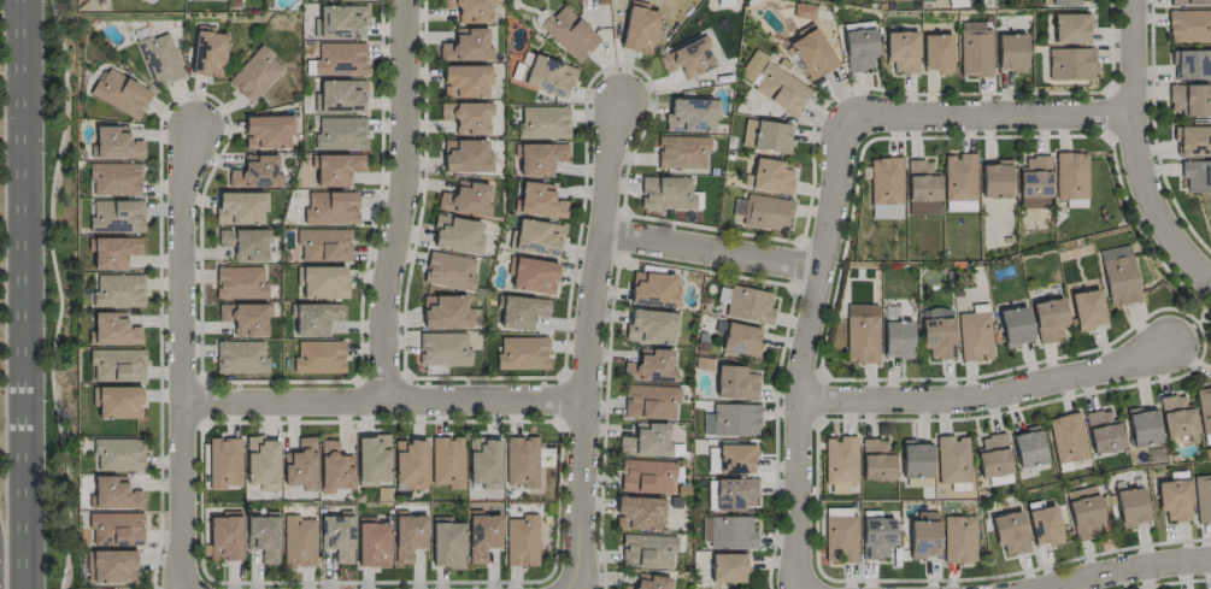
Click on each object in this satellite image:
building: (201, 0)
building: (1060, 1)
building: (1189, 1)
building: (470, 10)
building: (341, 20)
building: (1189, 25)
building: (639, 28)
building: (1071, 28)
building: (569, 33)
building: (468, 46)
building: (859, 48)
building: (975, 49)
building: (901, 51)
building: (1011, 52)
building: (208, 53)
building: (811, 53)
building: (936, 53)
building: (159, 58)
building: (689, 58)
building: (334, 59)
building: (1070, 64)
building: (1192, 64)
building: (254, 73)
building: (548, 76)
building: (465, 81)
building: (772, 83)
building: (119, 93)
building: (340, 95)
building: (1189, 100)
road: (990, 110)
building: (690, 114)
building: (466, 117)
building: (543, 122)
building: (266, 131)
building: (340, 132)
building: (770, 136)
building: (1192, 141)
building: (114, 143)
building: (681, 152)
road: (1135, 153)
building: (466, 155)
building: (540, 158)
building: (333, 169)
building: (255, 172)
building: (770, 176)
building: (1070, 176)
building: (1197, 176)
building: (114, 178)
building: (994, 179)
building: (922, 182)
building: (959, 182)
building: (1034, 182)
building: (886, 188)
building: (665, 193)
building: (466, 199)
road: (399, 200)
building: (539, 200)
building: (239, 207)
building: (330, 208)
building: (763, 212)
building: (116, 216)
building: (455, 234)
building: (537, 237)
building: (245, 243)
building: (323, 245)
road: (712, 251)
building: (113, 252)
building: (448, 270)
building: (533, 275)
building: (1118, 275)
building: (323, 282)
building: (239, 283)
building: (653, 289)
building: (118, 290)
road: (58, 293)
road: (19, 294)
building: (745, 304)
building: (1087, 310)
building: (522, 311)
building: (446, 312)
building: (245, 318)
building: (314, 318)
building: (1048, 319)
building: (1013, 325)
building: (651, 326)
building: (112, 329)
building: (860, 334)
building: (974, 335)
road: (592, 337)
building: (937, 337)
building: (740, 340)
building: (897, 340)
road: (806, 347)
building: (442, 349)
road: (183, 353)
building: (522, 353)
building: (240, 357)
building: (318, 357)
building: (117, 365)
building: (649, 366)
building: (735, 382)
road: (993, 396)
road: (384, 399)
building: (649, 401)
building: (118, 402)
building: (1204, 408)
building: (1175, 416)
building: (731, 419)
building: (1142, 426)
building: (1103, 431)
building: (1066, 437)
building: (646, 440)
building: (1028, 448)
building: (117, 454)
building: (992, 455)
building: (371, 459)
building: (735, 459)
building: (915, 459)
building: (952, 459)
building: (876, 460)
building: (447, 461)
building: (484, 461)
building: (521, 461)
building: (224, 463)
building: (261, 463)
building: (410, 463)
building: (839, 463)
building: (300, 465)
building: (333, 467)
building: (646, 476)
building: (111, 493)
building: (734, 494)
building: (1203, 497)
building: (1174, 499)
building: (1130, 507)
building: (1083, 512)
building: (639, 513)
building: (1044, 525)
building: (113, 529)
building: (728, 532)
building: (1010, 532)
building: (263, 535)
building: (923, 535)
building: (336, 536)
building: (408, 536)
building: (482, 536)
building: (876, 537)
building: (224, 538)
building: (840, 538)
building: (958, 538)
building: (521, 540)
building: (299, 541)
building: (447, 542)
building: (372, 544)
building: (647, 550)
building: (110, 566)
building: (728, 567)
road: (1127, 572)
building: (651, 582)

